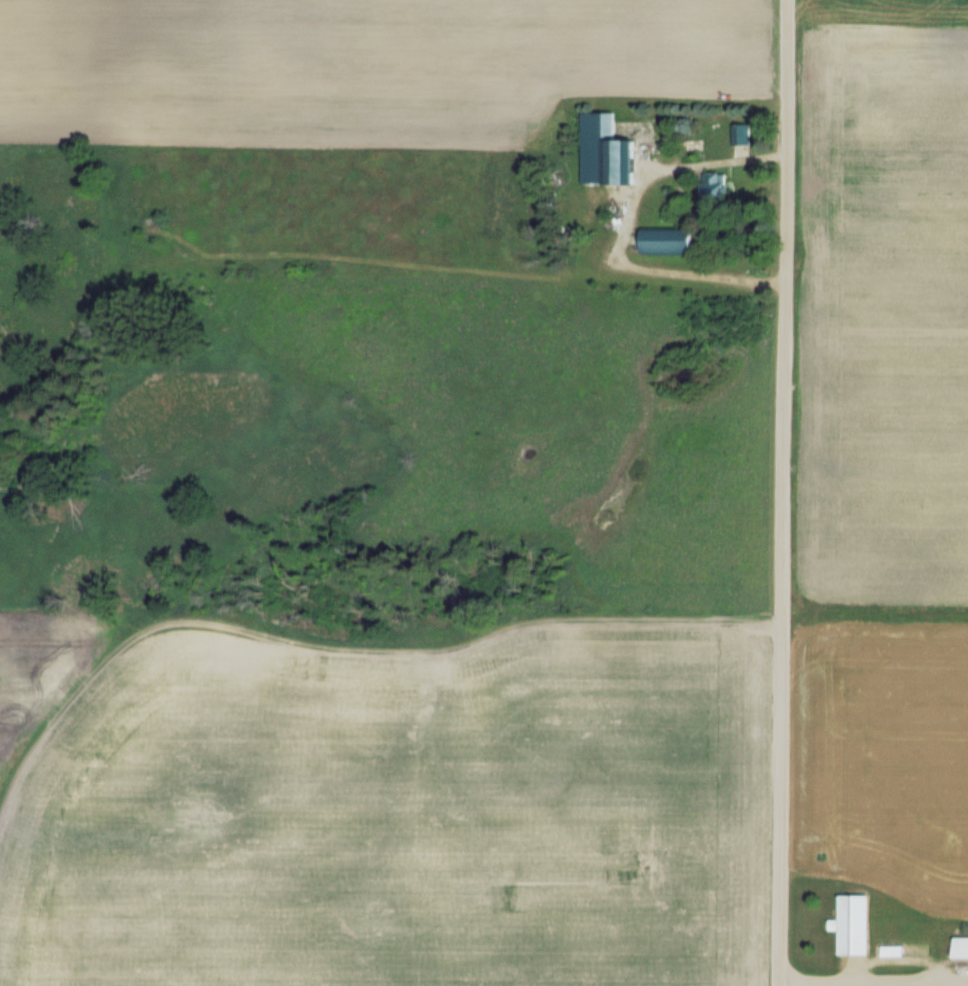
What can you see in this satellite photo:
building: (741, 134)
building: (605, 151)
building: (714, 189)
road: (622, 229)
building: (667, 240)
road: (780, 492)
building: (853, 923)
building: (961, 946)
road: (866, 981)

